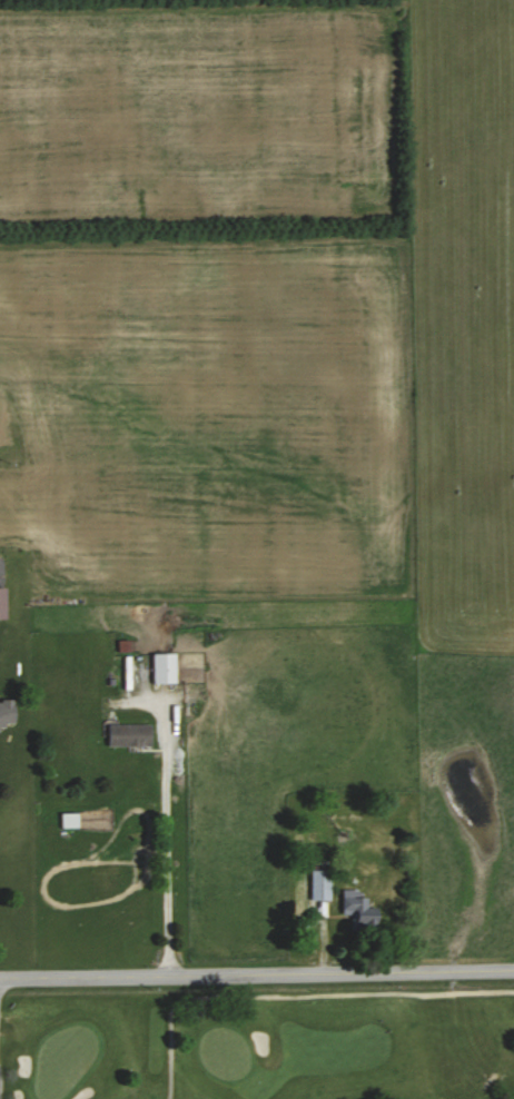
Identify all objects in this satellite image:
building: (165, 667)
building: (8, 714)
building: (130, 734)
building: (70, 820)
road: (174, 833)
building: (322, 884)
building: (359, 910)
road: (256, 974)

